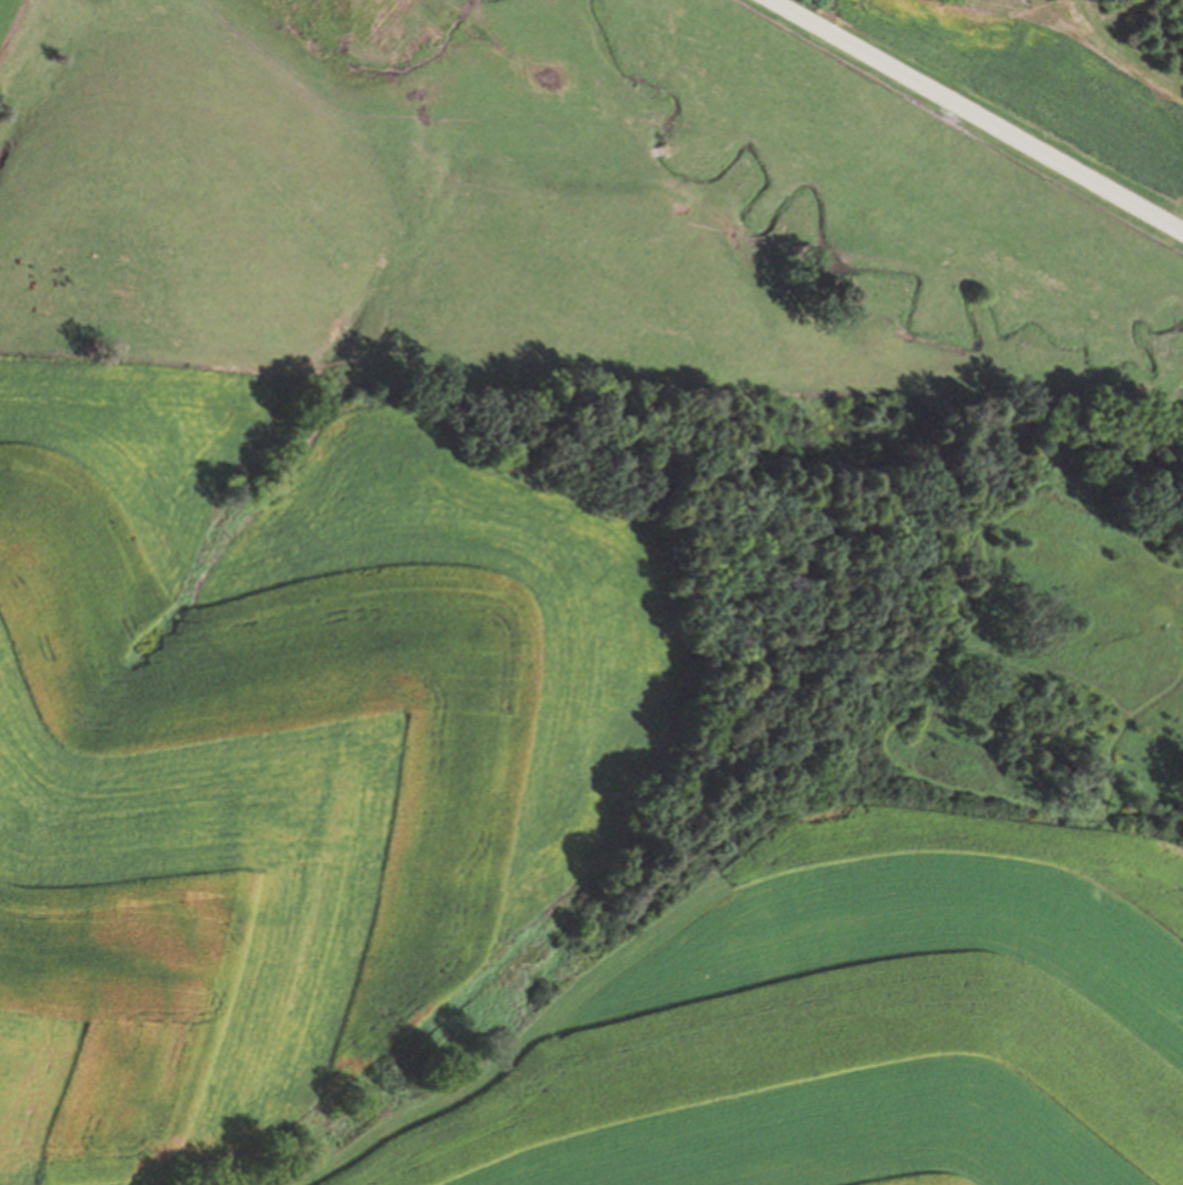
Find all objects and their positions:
road: (976, 117)

